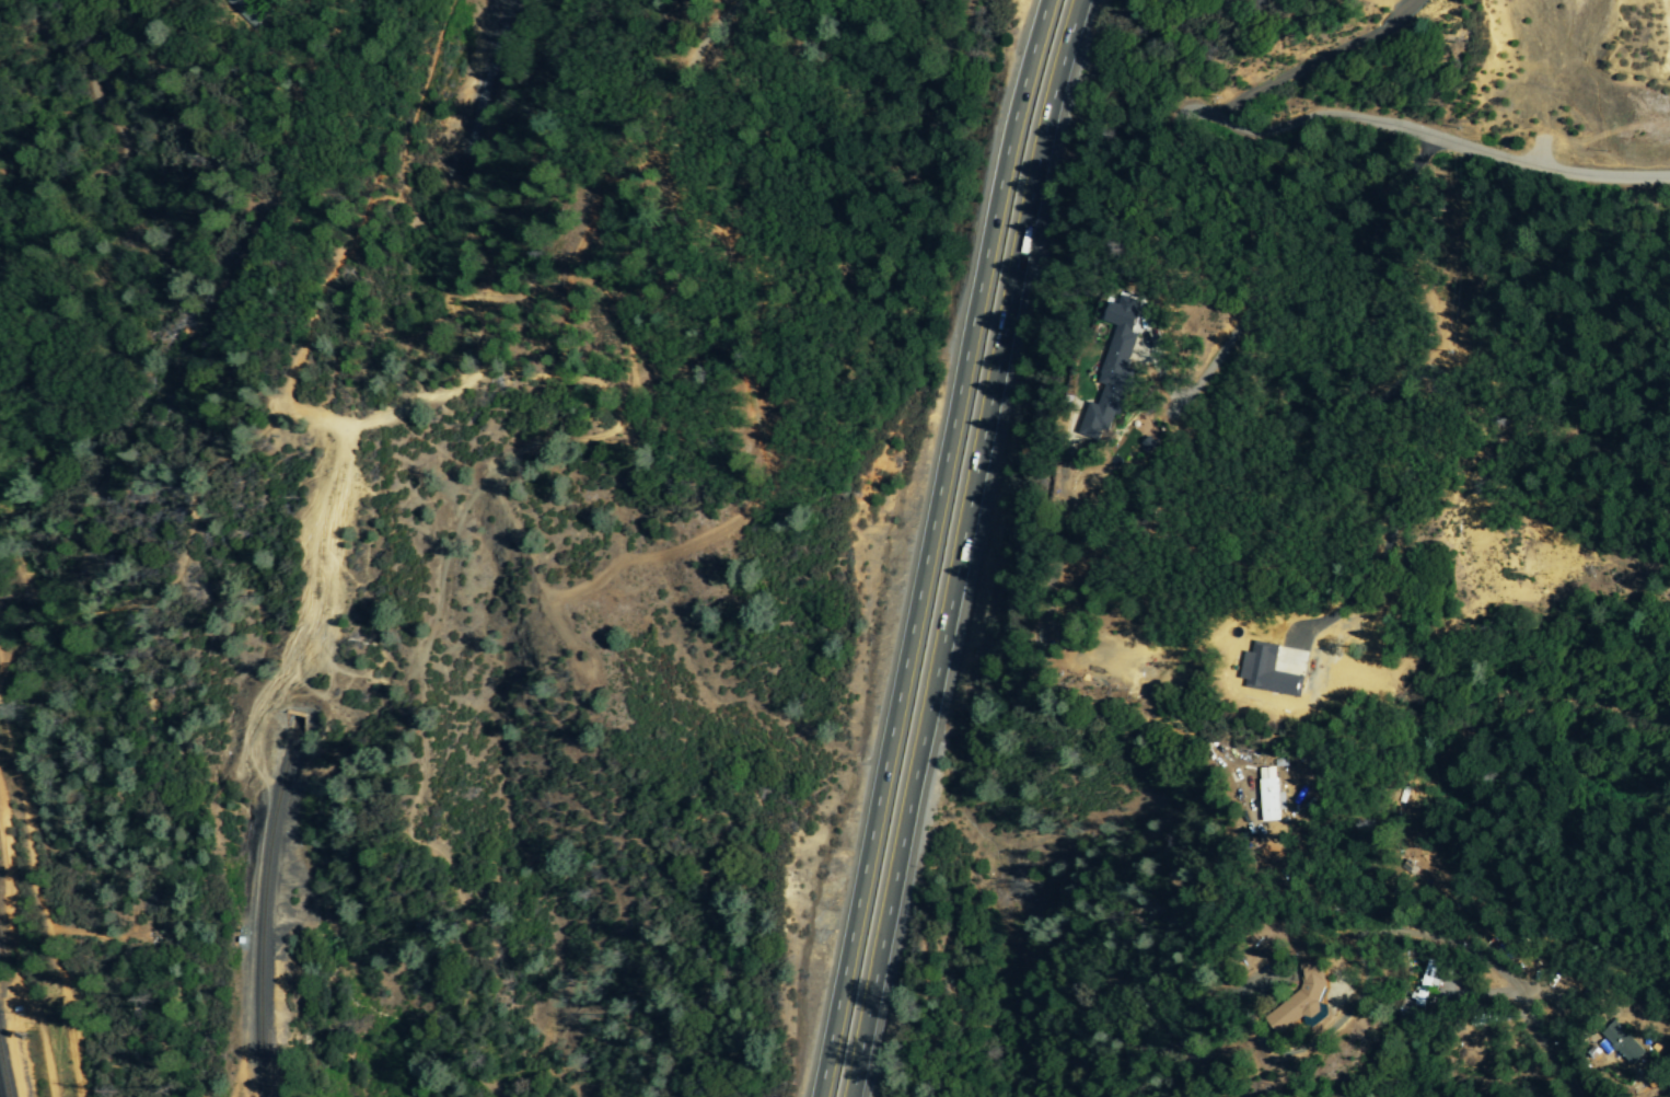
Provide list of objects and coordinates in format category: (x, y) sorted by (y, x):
road: (692, 55)
railway: (485, 88)
road: (1223, 122)
road: (1564, 172)
building: (1115, 368)
road: (973, 546)
road: (936, 547)
building: (1268, 795)
road: (1286, 881)
railway: (268, 904)
road: (1533, 975)
building: (1428, 983)
road: (1518, 990)
building: (1306, 998)
road: (1568, 1000)
road: (1325, 1035)
building: (1623, 1042)
railway: (4, 1071)

